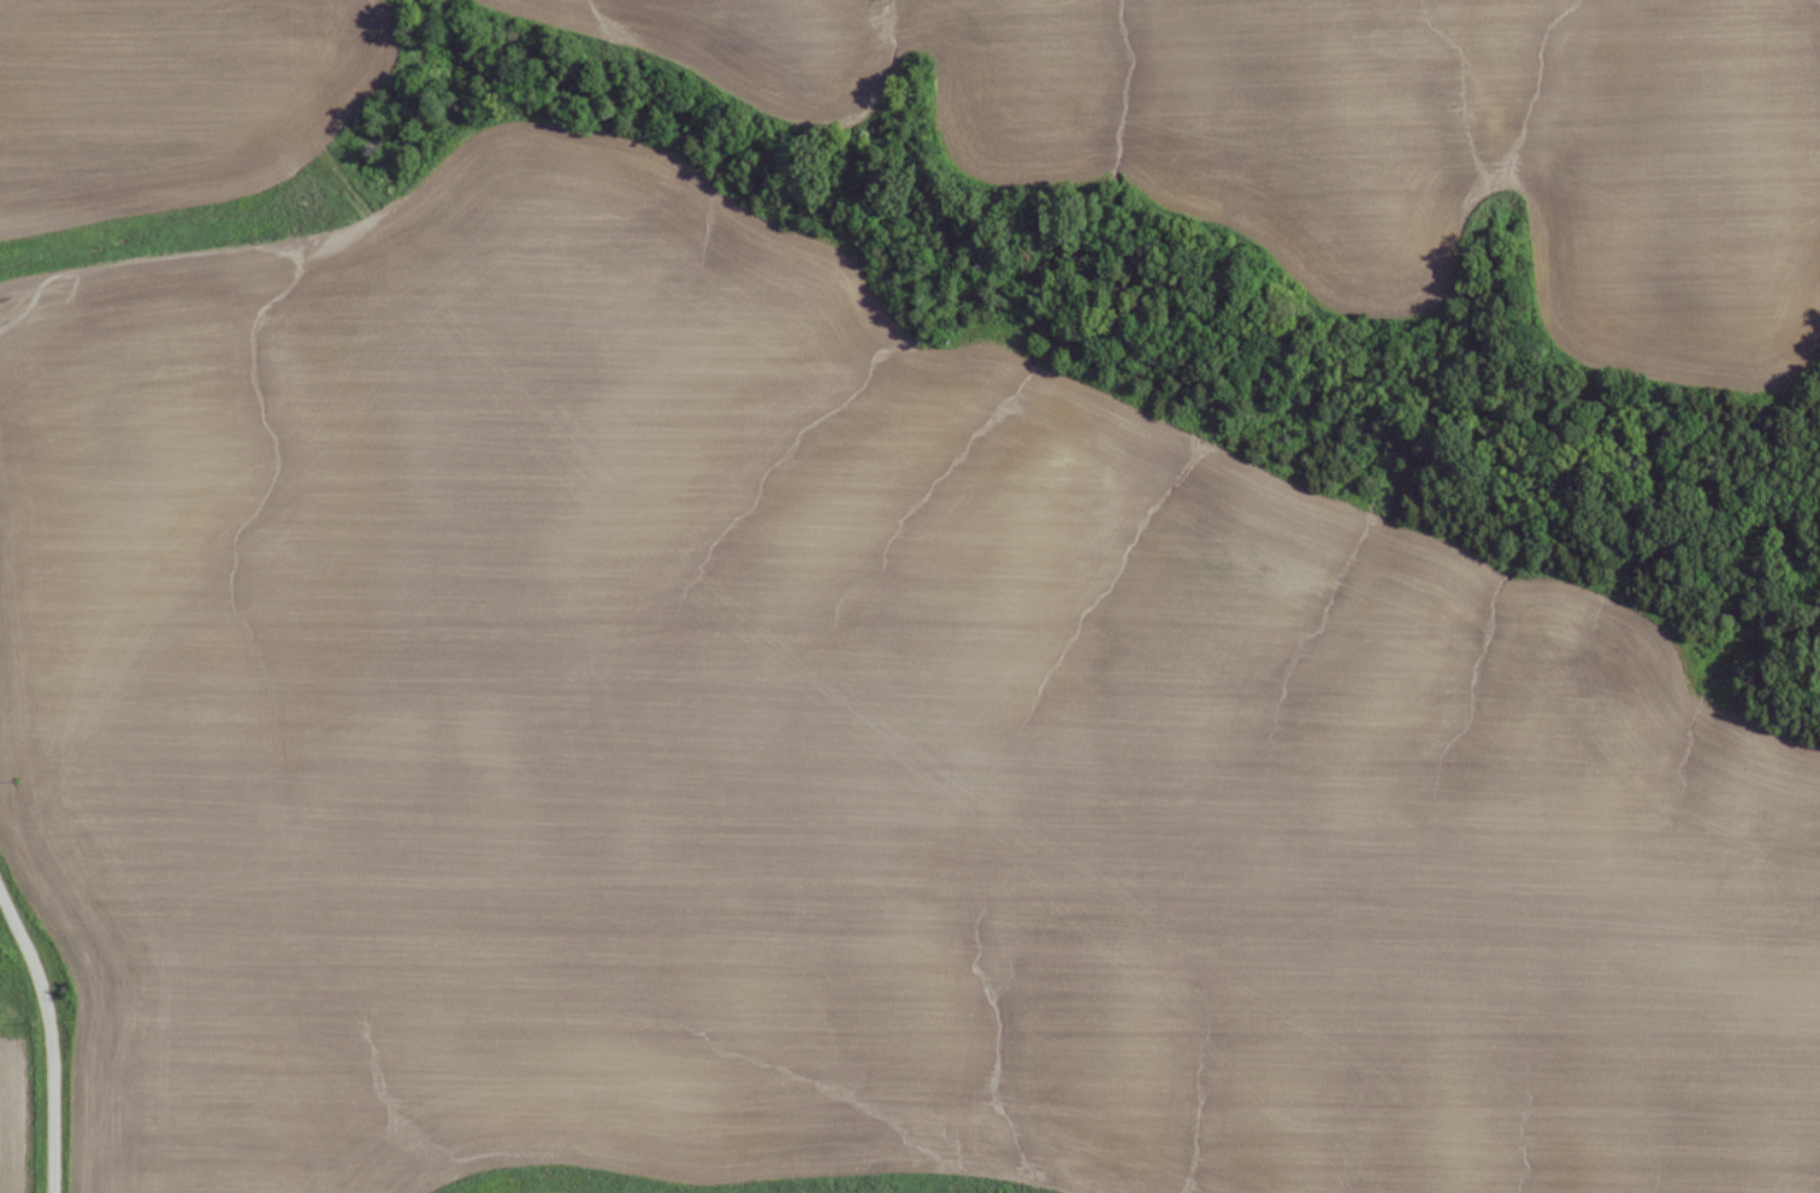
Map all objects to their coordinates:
road: (51, 1035)

